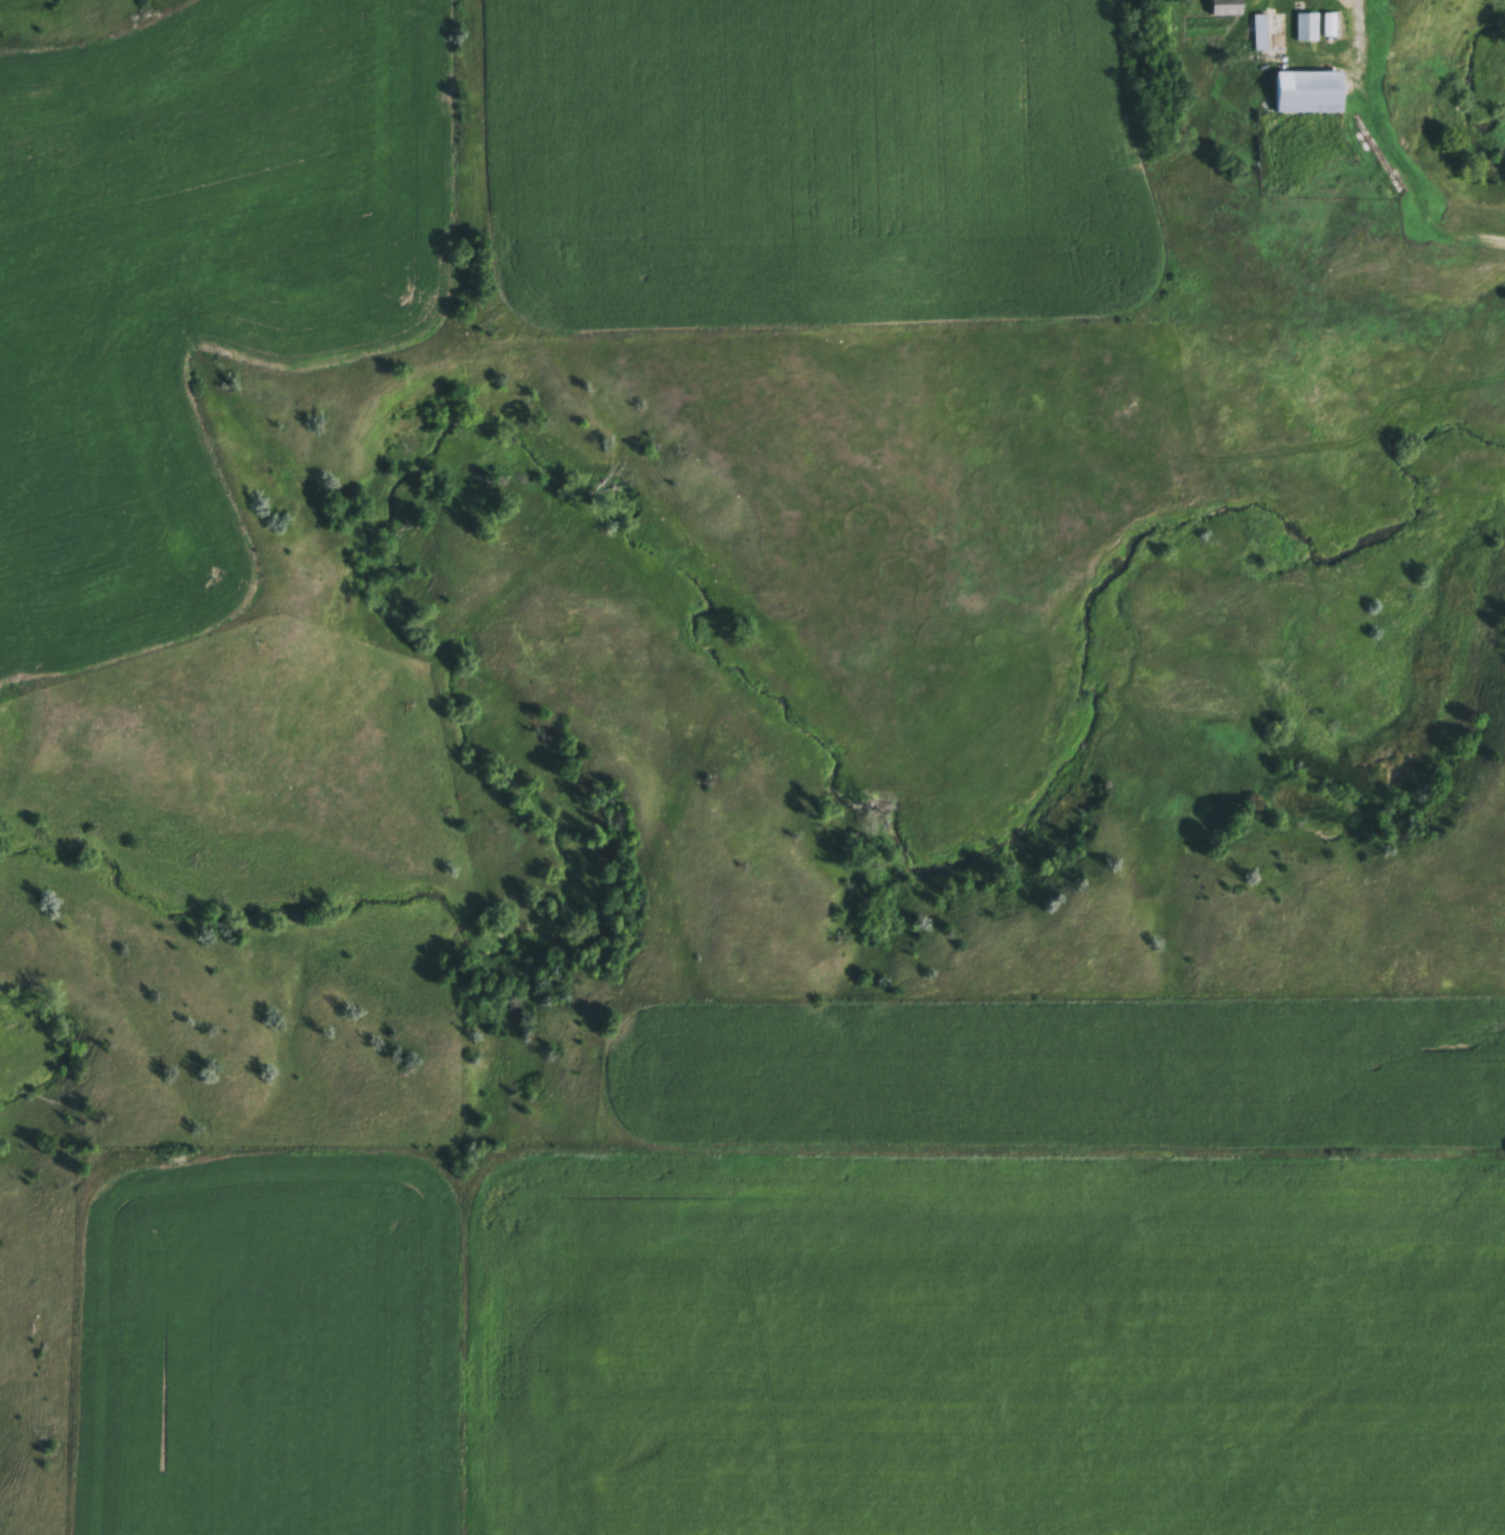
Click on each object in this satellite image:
building: (1314, 28)
building: (1309, 94)

